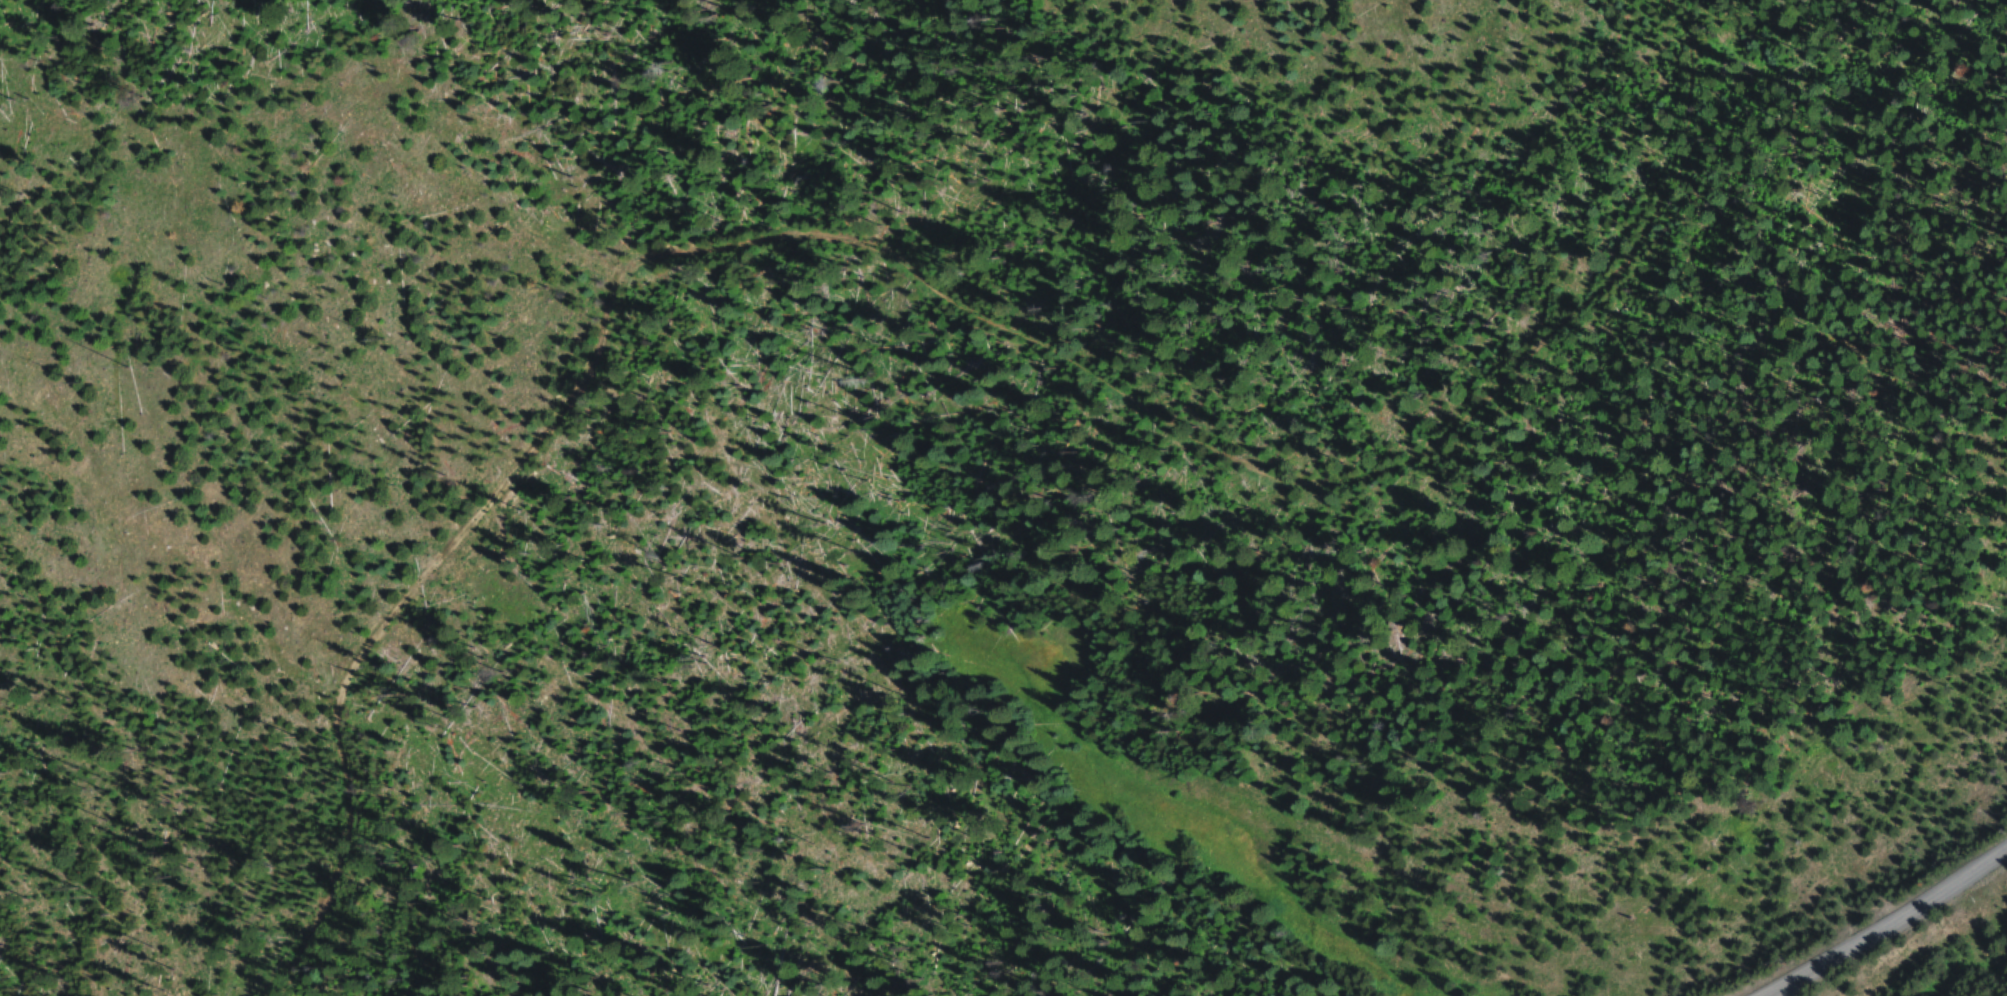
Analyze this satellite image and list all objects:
road: (1886, 923)

